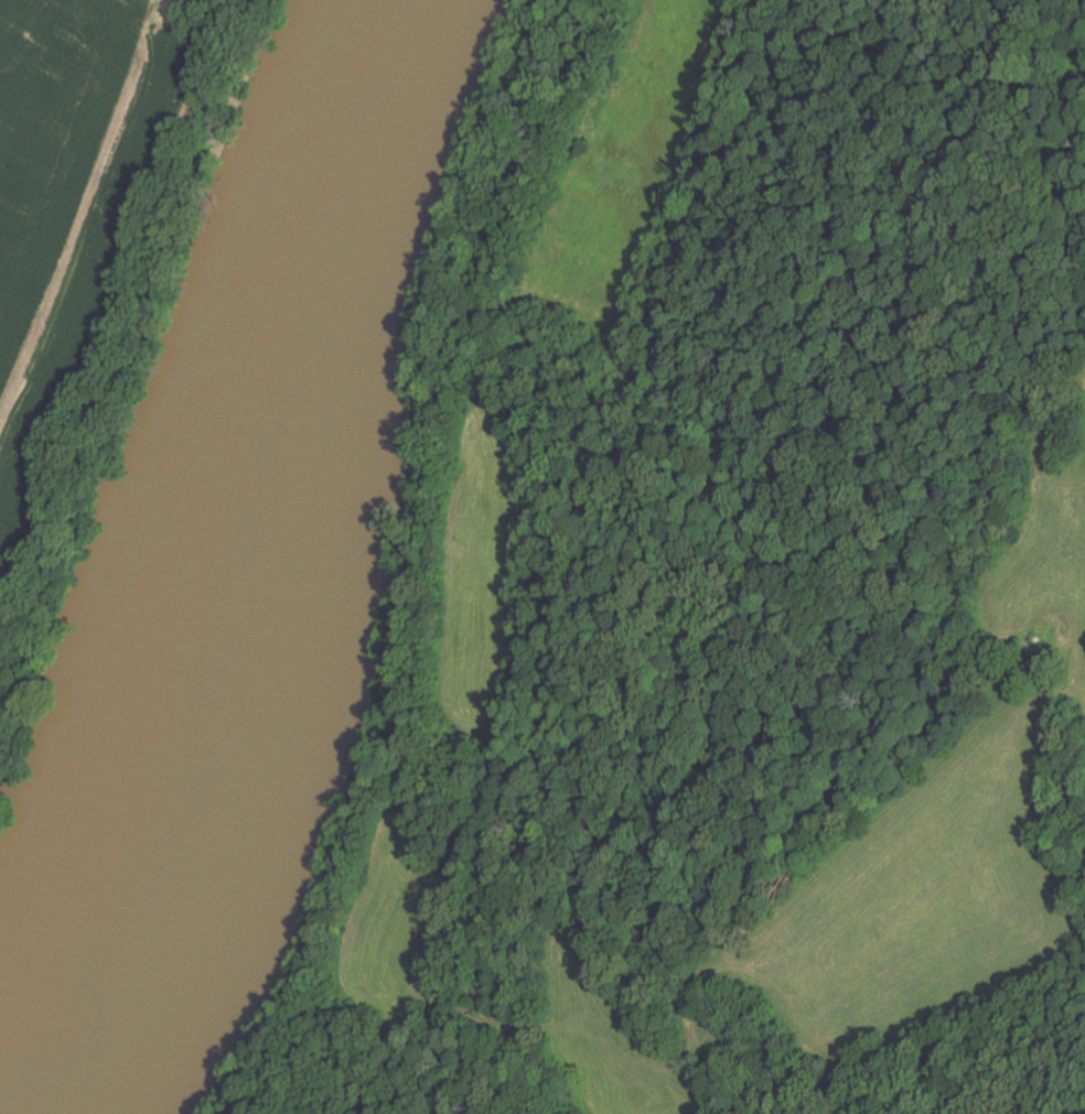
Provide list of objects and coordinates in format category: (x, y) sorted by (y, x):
river: (204, 523)

